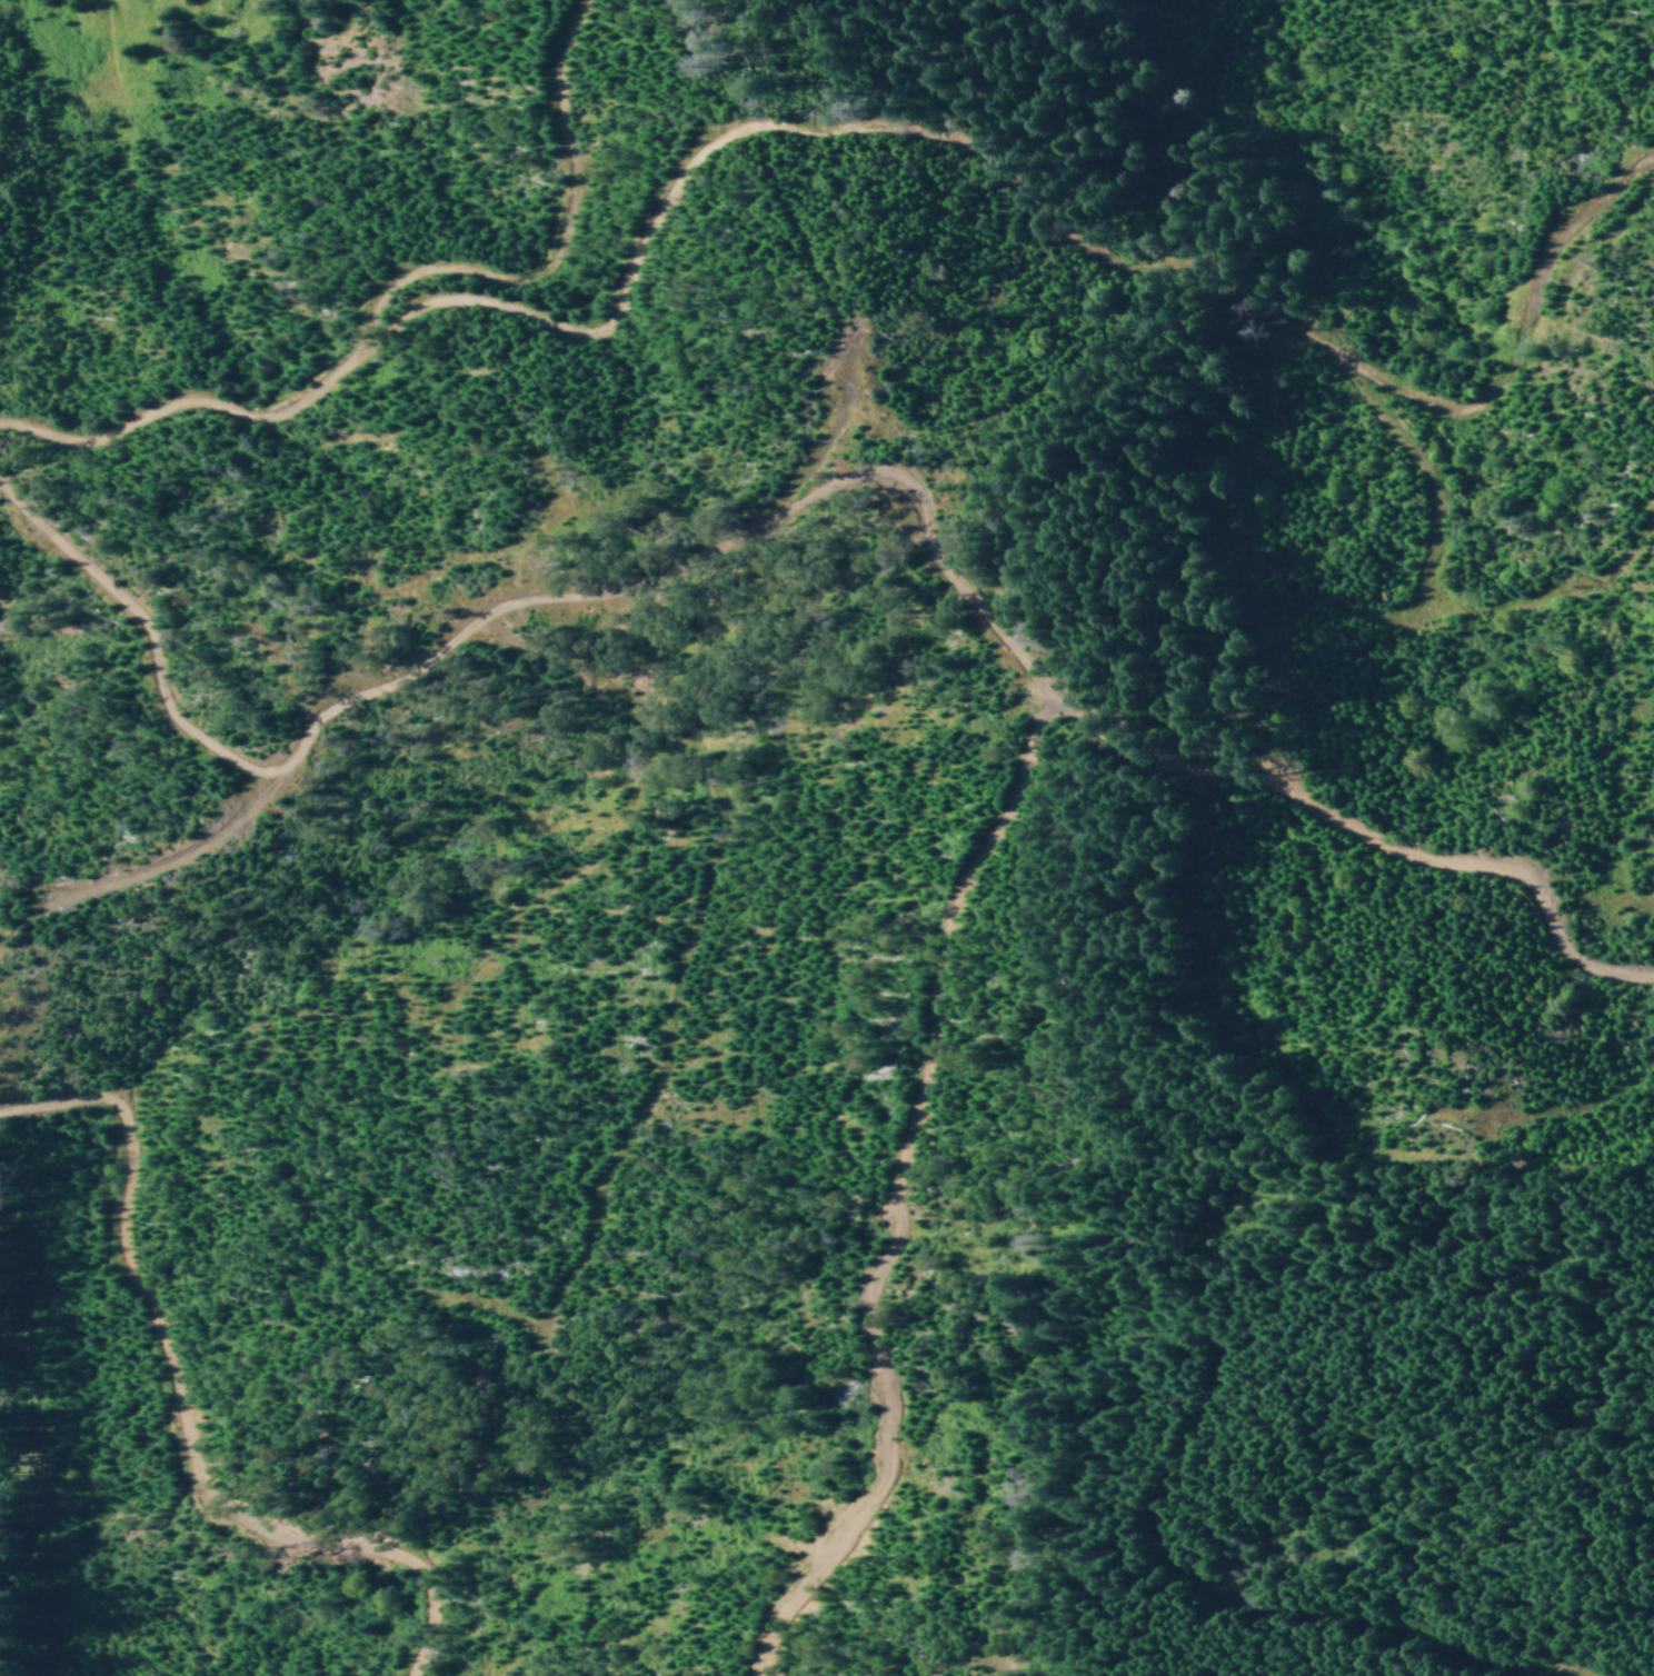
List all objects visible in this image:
road: (1269, 1607)

